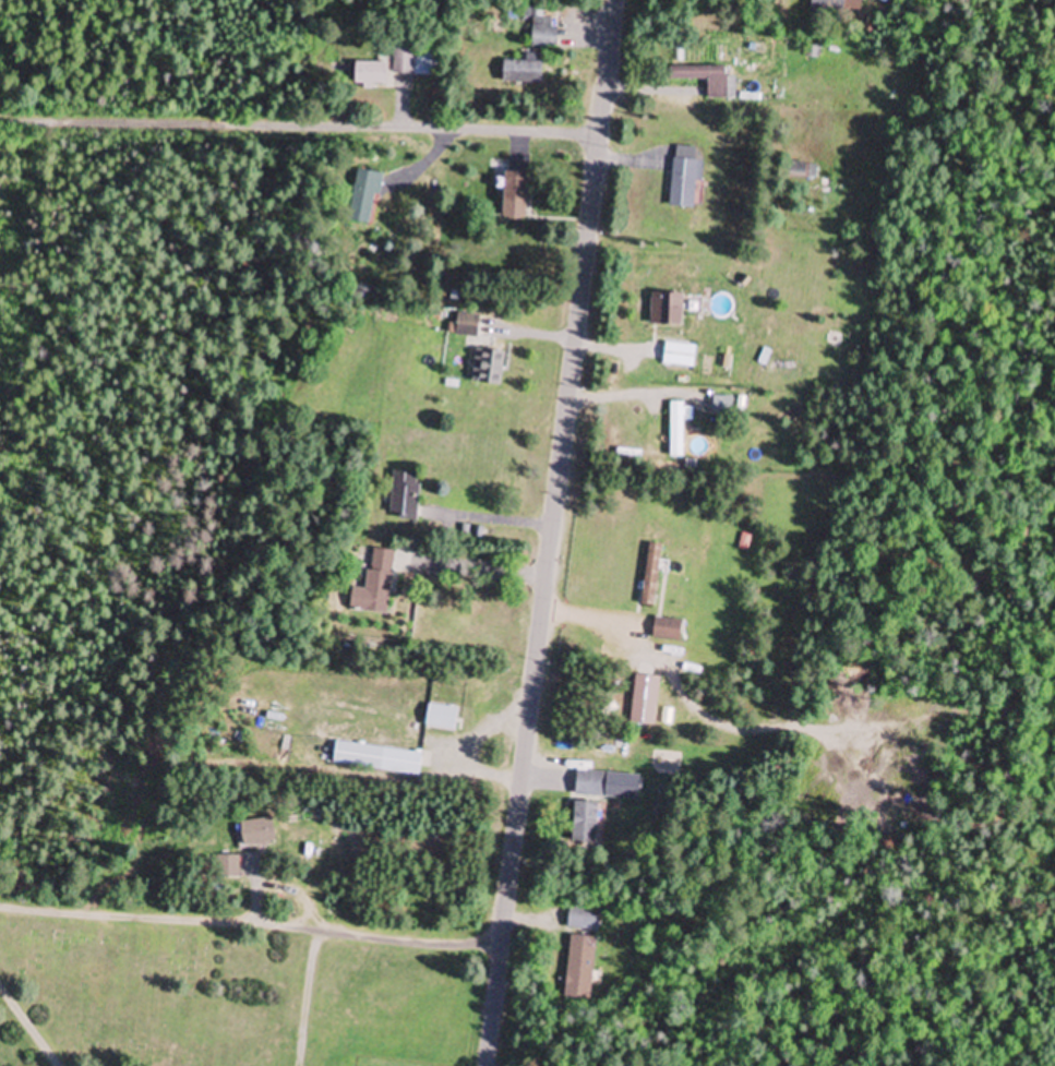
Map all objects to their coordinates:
building: (828, 5)
building: (544, 33)
building: (385, 68)
building: (521, 73)
building: (704, 79)
road: (381, 130)
building: (802, 171)
building: (685, 178)
building: (514, 195)
building: (364, 196)
building: (666, 309)
building: (466, 325)
building: (679, 356)
building: (488, 368)
building: (722, 407)
building: (676, 431)
building: (405, 495)
road: (551, 532)
building: (651, 575)
building: (374, 585)
building: (667, 630)
building: (644, 700)
building: (441, 718)
building: (376, 759)
building: (591, 783)
building: (586, 824)
building: (257, 833)
building: (227, 867)
park: (158, 870)
building: (583, 919)
building: (579, 969)

